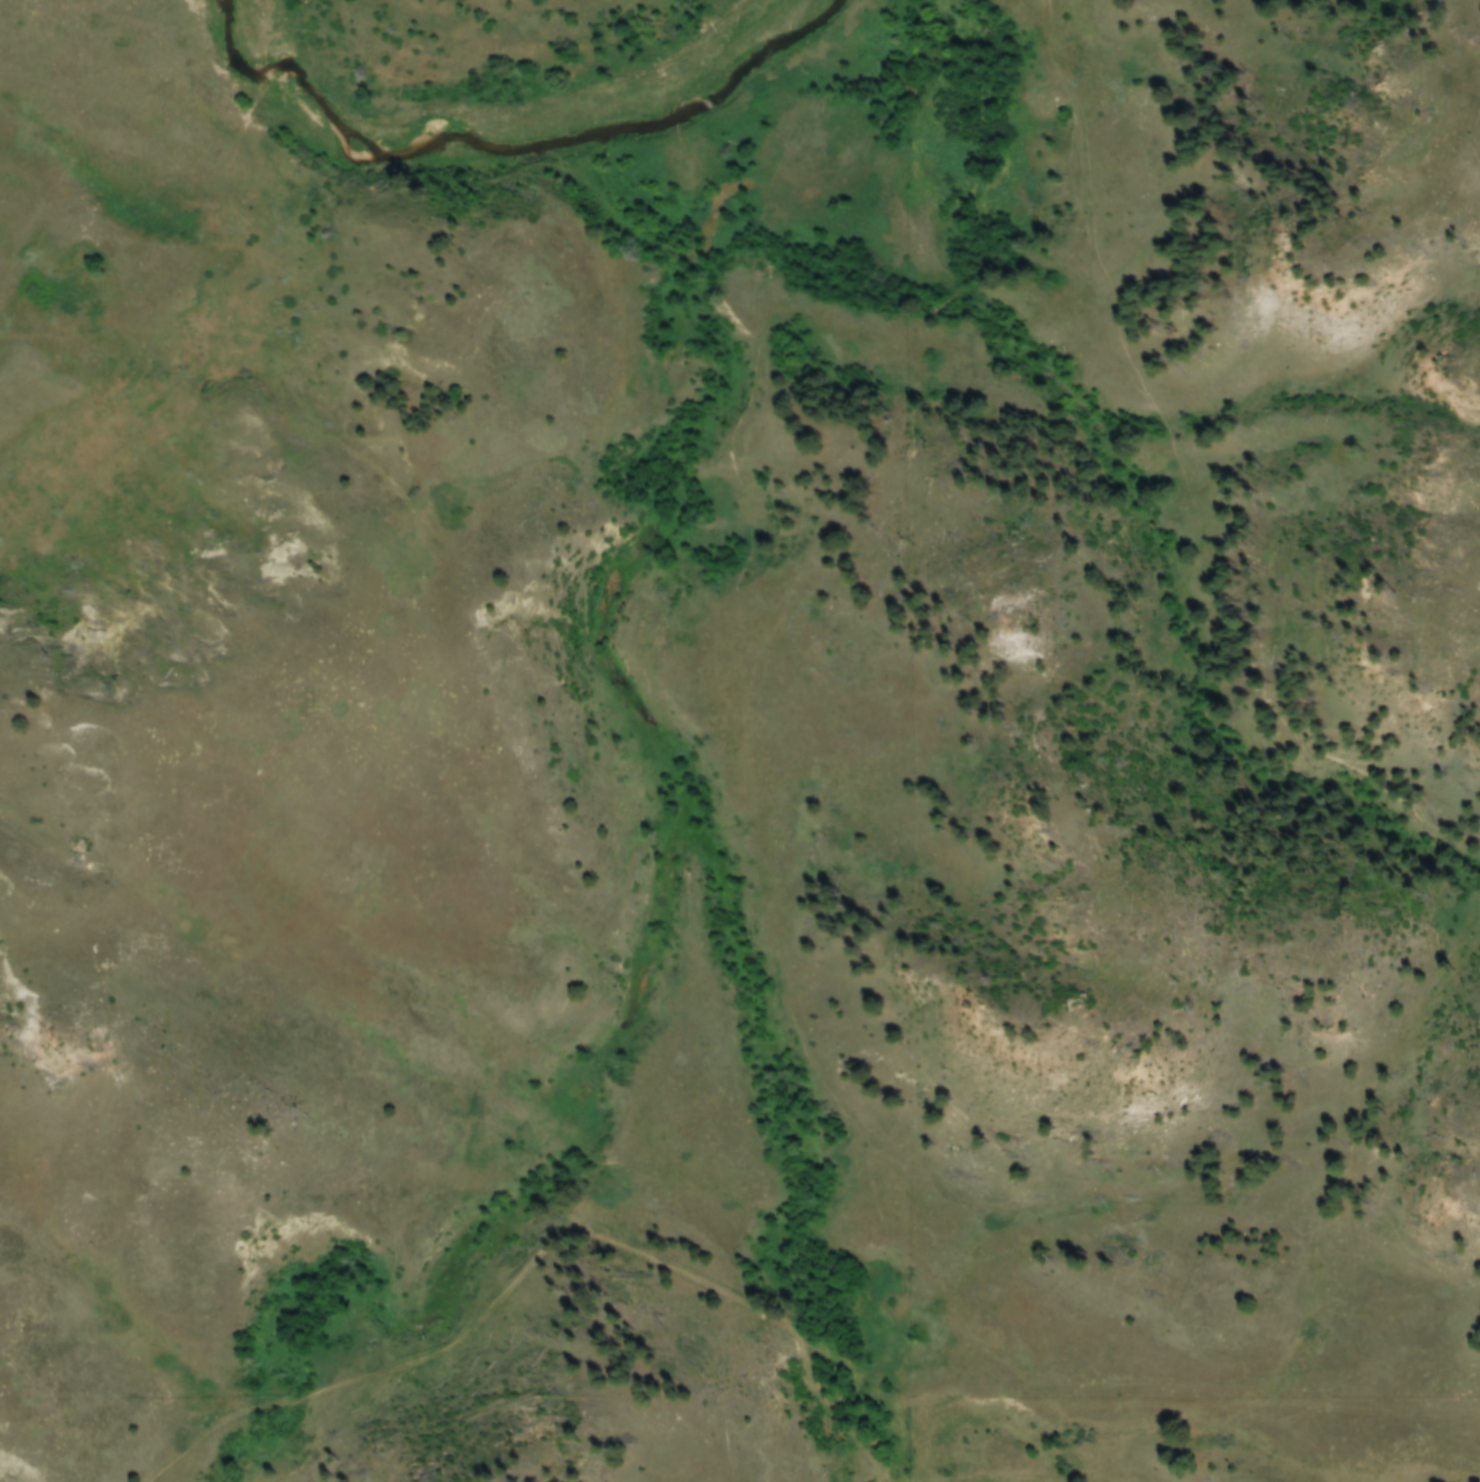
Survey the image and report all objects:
river: (496, 150)

